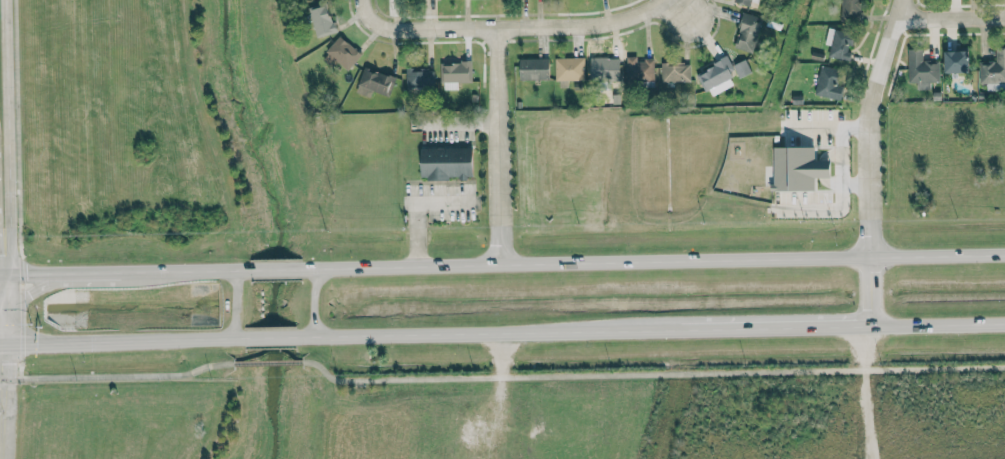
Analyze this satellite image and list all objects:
building: (755, 0)
building: (743, 2)
road: (375, 9)
building: (851, 9)
road: (955, 10)
road: (707, 11)
building: (321, 20)
road: (518, 30)
building: (747, 32)
building: (839, 43)
building: (341, 53)
building: (956, 61)
building: (533, 68)
building: (604, 68)
building: (741, 68)
building: (993, 68)
building: (569, 69)
building: (639, 69)
building: (922, 69)
building: (675, 72)
building: (455, 74)
building: (716, 74)
building: (419, 77)
building: (374, 83)
building: (828, 83)
road: (6, 129)
road: (502, 147)
road: (872, 160)
building: (446, 163)
building: (797, 168)
road: (652, 260)
road: (0, 265)
road: (275, 268)
road: (183, 269)
road: (59, 272)
traffic signals: (0, 273)
road: (58, 283)
road: (312, 302)
road: (236, 303)
traffic signals: (0, 304)
road: (0, 308)
road: (0, 313)
traffic signals: (1, 313)
road: (937, 324)
road: (773, 327)
road: (486, 333)
road: (269, 336)
road: (122, 340)
road: (0, 344)
traffic signals: (1, 344)
road: (268, 362)
road: (650, 373)
road: (118, 375)
road: (1, 401)

